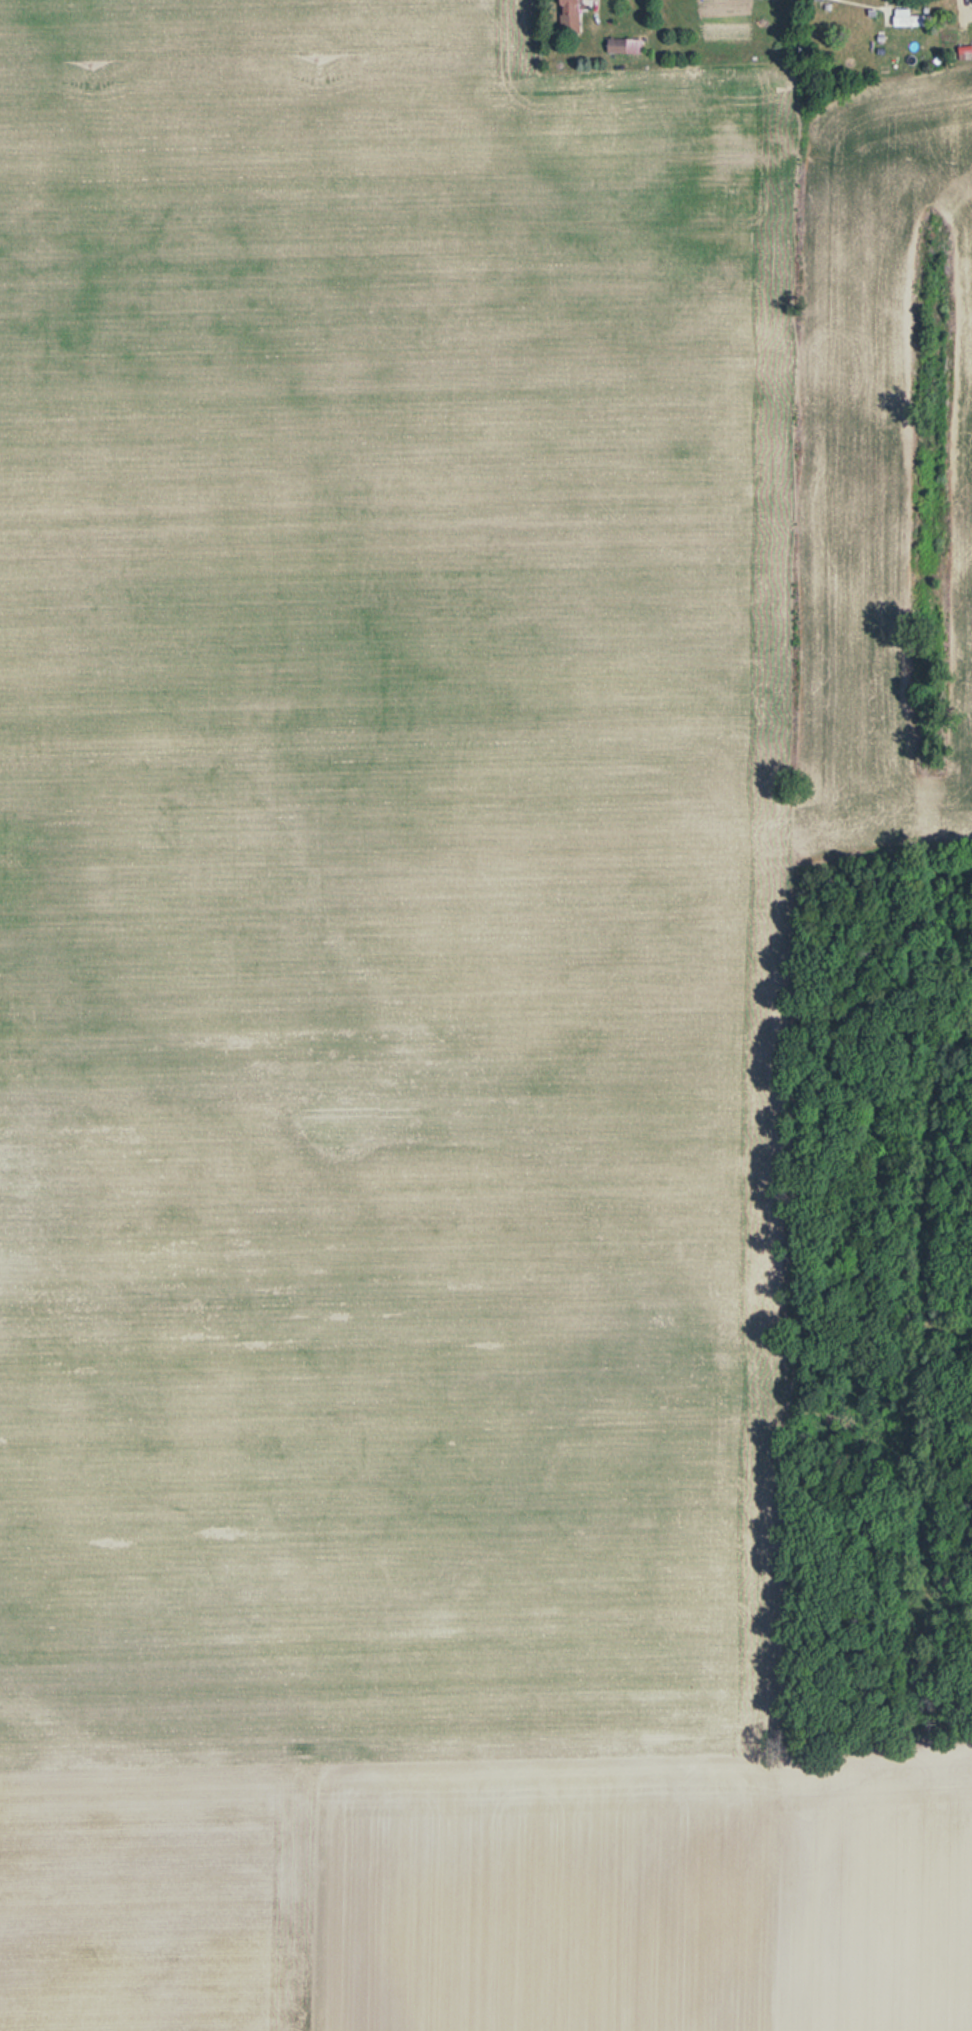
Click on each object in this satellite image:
building: (569, 15)
building: (909, 18)
building: (624, 44)

